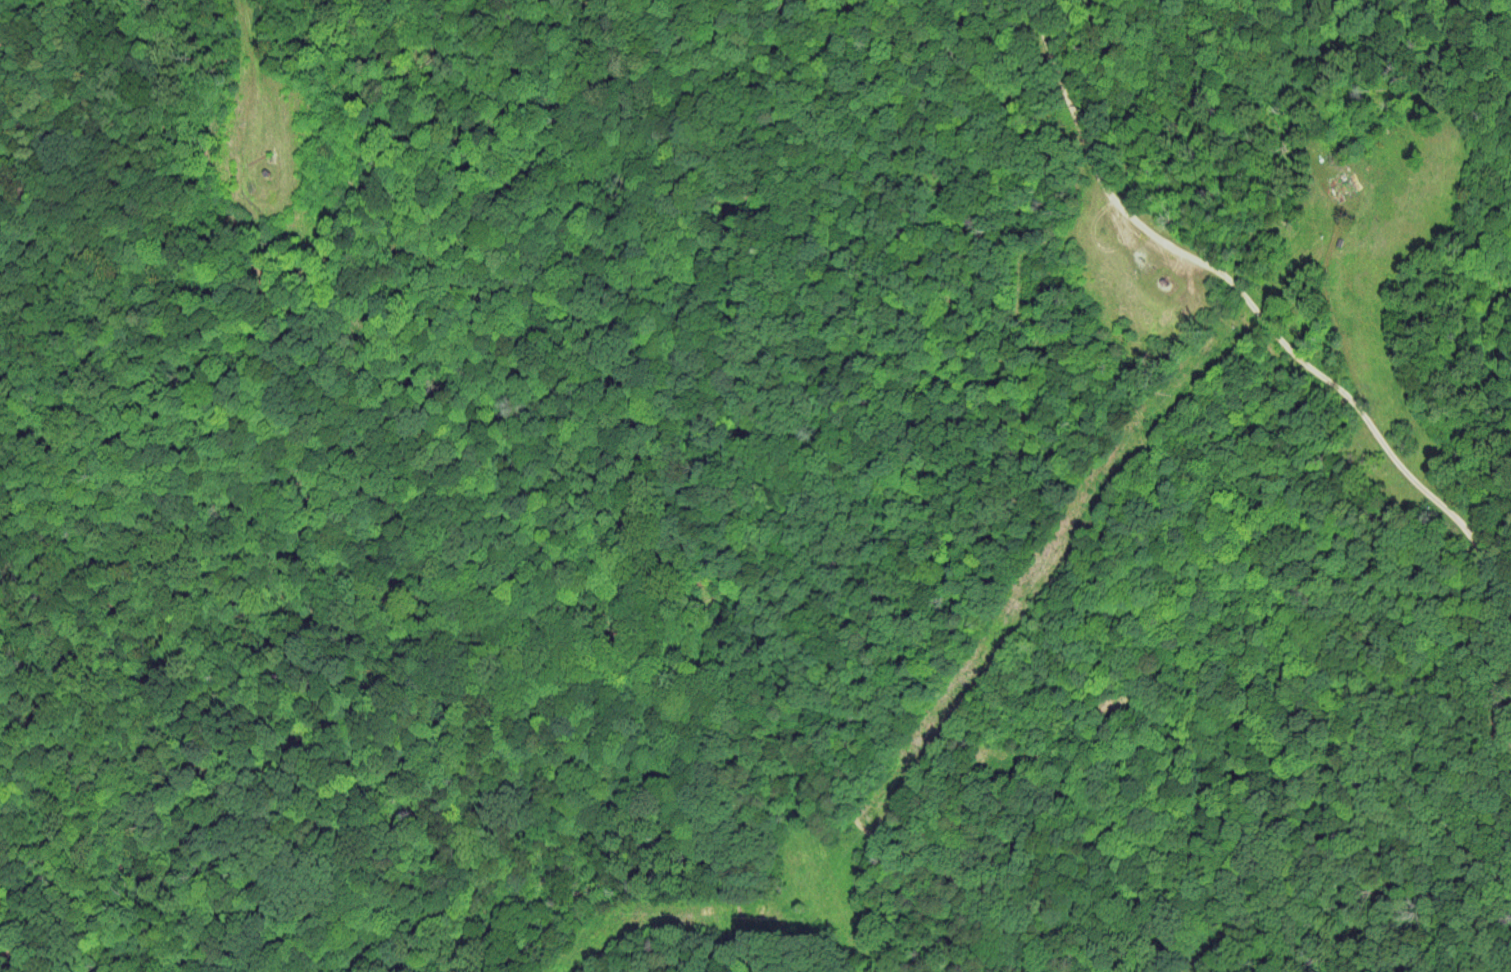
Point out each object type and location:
building: (1343, 183)
road: (1272, 309)

